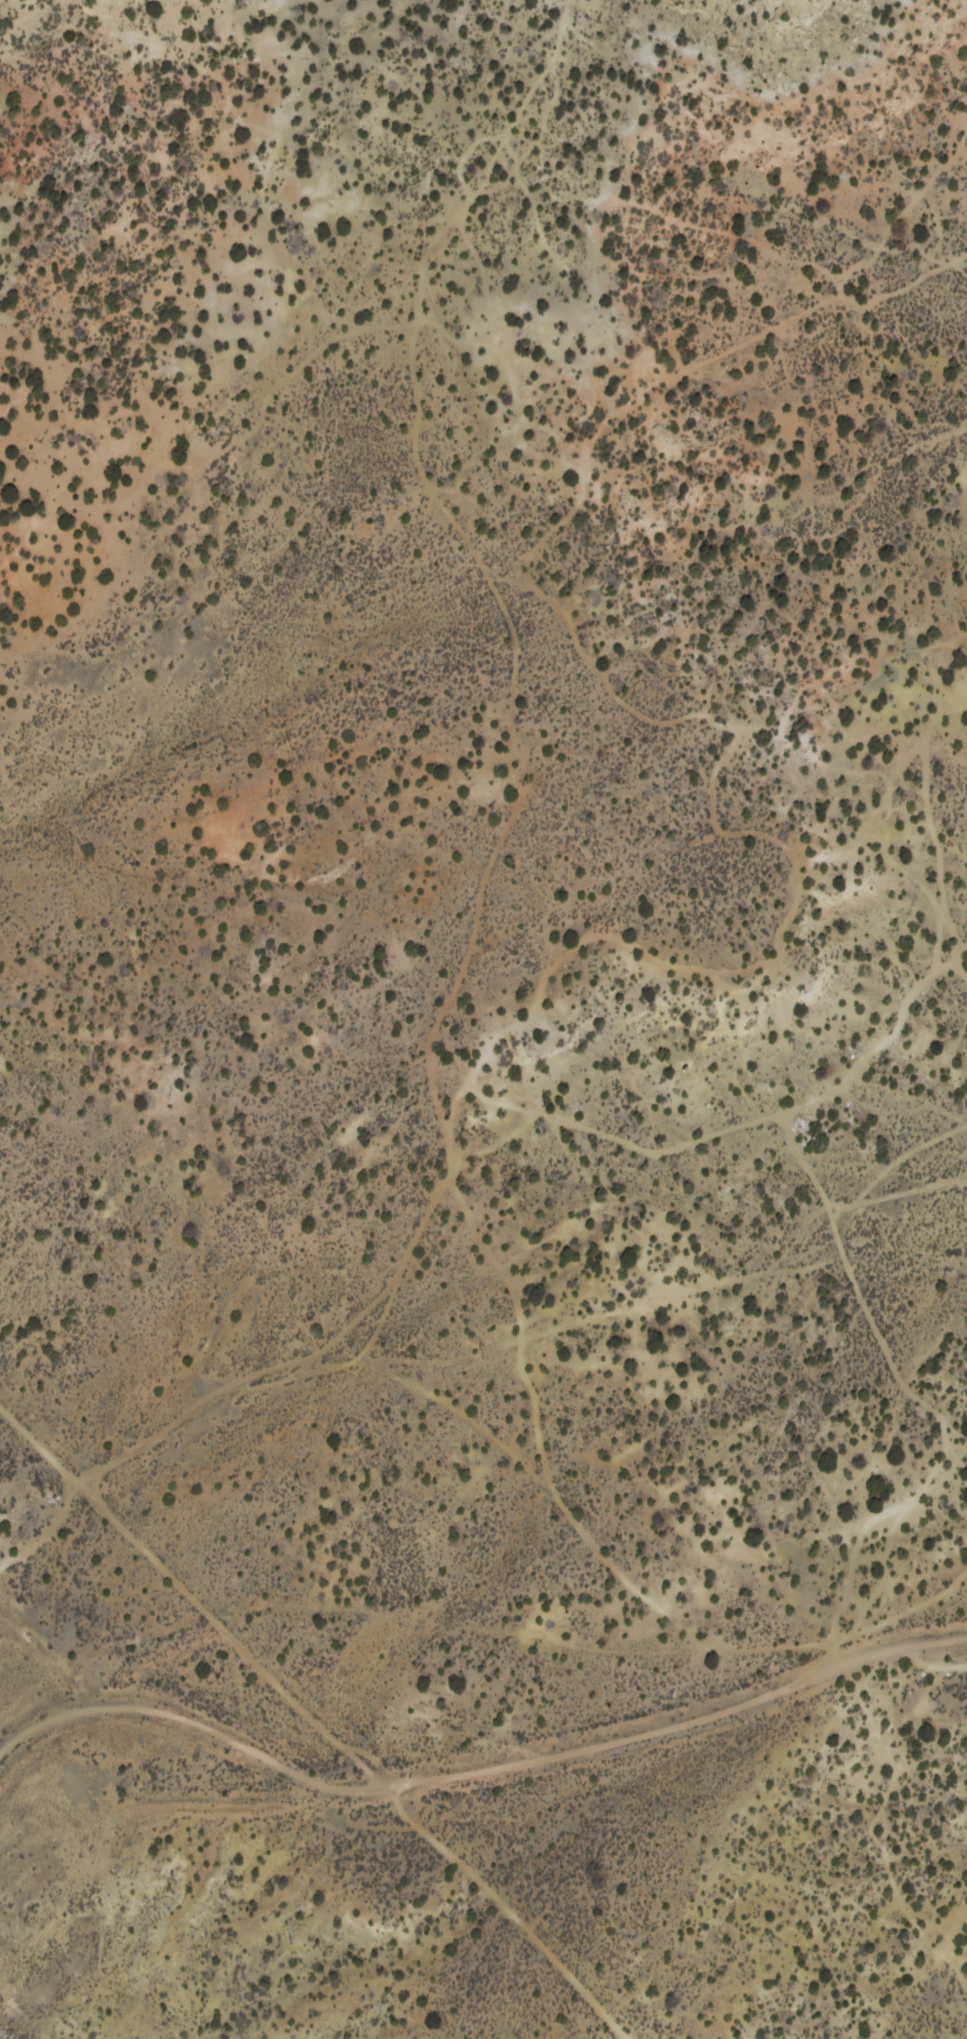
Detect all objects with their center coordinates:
power tower: (855, 1246)
power tower: (485, 1353)
power tower: (35, 1484)
road: (477, 1759)

